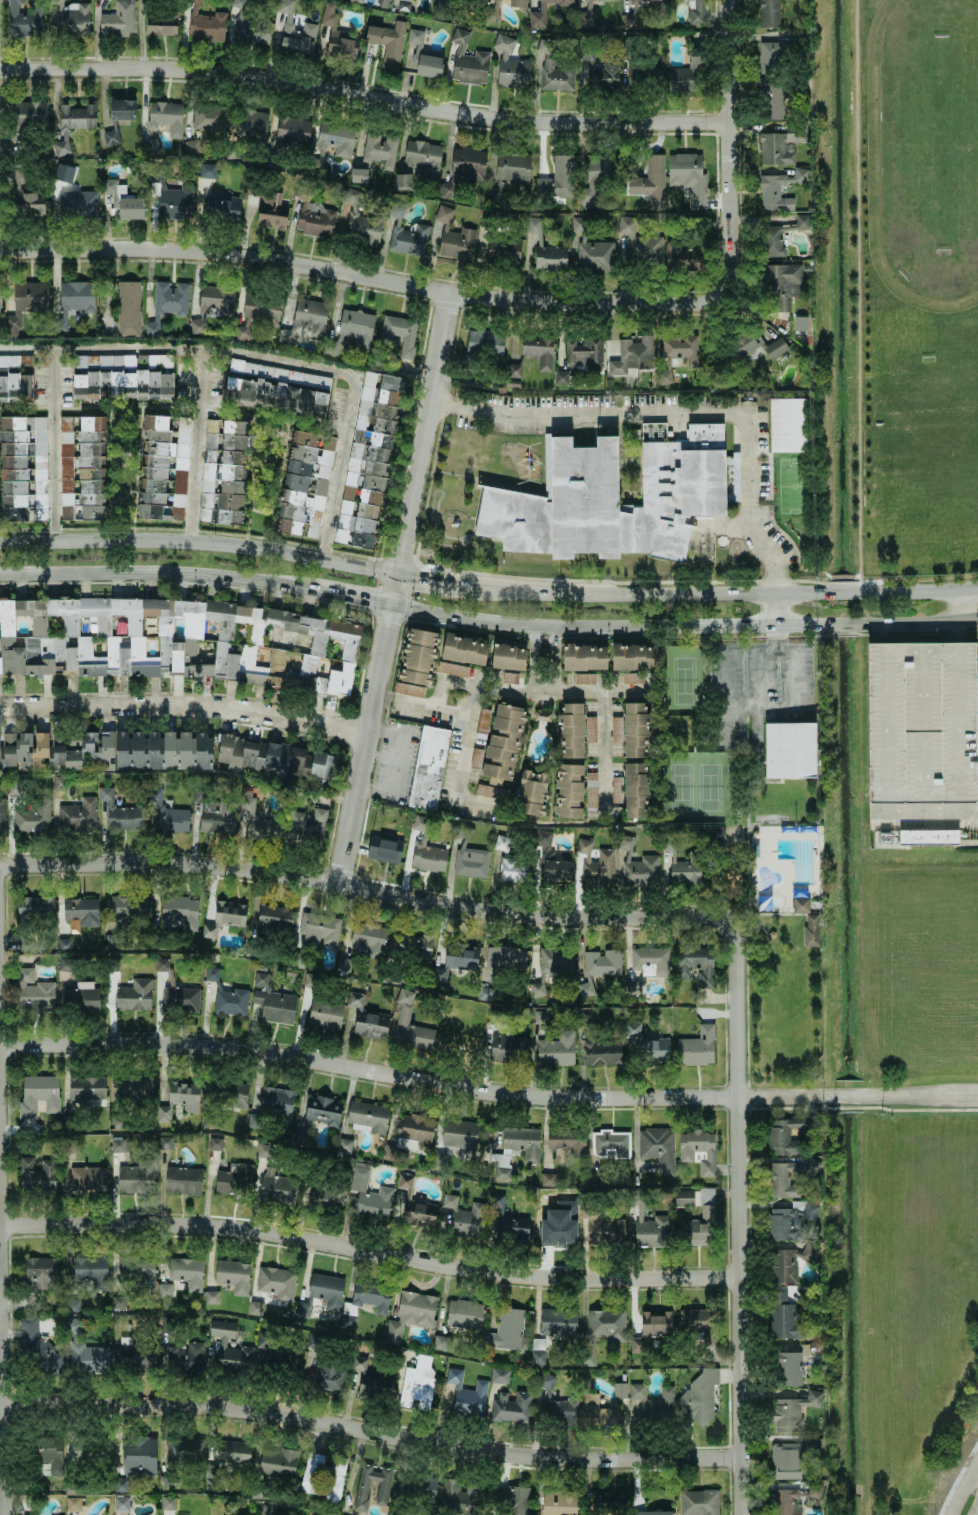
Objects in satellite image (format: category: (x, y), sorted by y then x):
building: (355, 0)
building: (643, 0)
building: (379, 2)
building: (517, 3)
building: (404, 5)
building: (586, 9)
building: (493, 10)
building: (694, 11)
building: (542, 12)
building: (768, 13)
building: (24, 19)
building: (71, 19)
building: (118, 19)
building: (160, 24)
building: (206, 26)
building: (250, 30)
building: (294, 31)
building: (337, 35)
building: (414, 37)
building: (387, 41)
building: (771, 56)
building: (467, 61)
building: (510, 64)
building: (428, 65)
building: (553, 68)
building: (596, 70)
building: (644, 73)
road: (363, 98)
building: (773, 102)
building: (121, 109)
building: (28, 113)
building: (165, 116)
building: (208, 118)
building: (251, 123)
building: (72, 124)
building: (292, 129)
building: (110, 137)
building: (331, 141)
building: (780, 145)
building: (150, 146)
building: (191, 146)
building: (379, 149)
building: (419, 161)
building: (463, 168)
building: (207, 171)
building: (68, 174)
building: (595, 174)
building: (358, 175)
building: (687, 175)
road: (728, 175)
building: (556, 179)
building: (649, 181)
building: (778, 190)
building: (25, 198)
building: (124, 200)
building: (174, 201)
building: (77, 204)
building: (110, 204)
building: (222, 207)
building: (271, 210)
building: (443, 214)
building: (315, 219)
building: (801, 222)
building: (363, 228)
building: (409, 239)
building: (774, 241)
building: (457, 244)
building: (639, 244)
building: (588, 249)
building: (503, 251)
building: (682, 256)
building: (550, 258)
road: (336, 273)
building: (782, 282)
road: (853, 290)
building: (0, 297)
building: (170, 298)
building: (74, 301)
building: (25, 304)
building: (212, 305)
building: (128, 308)
building: (257, 313)
building: (306, 320)
building: (356, 326)
building: (152, 328)
building: (400, 333)
building: (484, 343)
building: (774, 348)
road: (206, 349)
building: (538, 350)
building: (747, 351)
building: (676, 353)
building: (631, 355)
building: (580, 358)
building: (25, 363)
building: (513, 369)
road: (46, 377)
building: (117, 379)
building: (13, 381)
building: (276, 387)
road: (173, 406)
road: (649, 411)
building: (786, 425)
road: (197, 445)
building: (367, 459)
building: (179, 463)
building: (25, 465)
building: (155, 465)
building: (81, 468)
building: (223, 471)
road: (53, 473)
building: (307, 484)
road: (333, 494)
building: (614, 500)
road: (199, 542)
traffic signals: (400, 555)
road: (775, 563)
road: (158, 573)
traffic signals: (417, 575)
road: (423, 575)
road: (839, 578)
road: (968, 586)
road: (393, 588)
road: (924, 589)
road: (669, 593)
road: (352, 597)
traffic signals: (368, 601)
road: (959, 604)
road: (772, 607)
road: (969, 618)
road: (925, 620)
traffic signals: (388, 623)
road: (640, 624)
road: (775, 633)
building: (179, 642)
road: (771, 650)
road: (537, 653)
road: (557, 654)
building: (438, 655)
building: (633, 656)
building: (508, 657)
building: (584, 657)
road: (795, 667)
building: (632, 676)
road: (511, 678)
building: (584, 678)
building: (408, 689)
road: (766, 696)
road: (185, 706)
building: (542, 715)
building: (921, 723)
parking garage: (921, 723)
road: (478, 727)
building: (570, 730)
building: (636, 730)
road: (611, 742)
building: (162, 750)
building: (789, 750)
building: (56, 751)
building: (501, 751)
building: (238, 757)
road: (431, 766)
building: (428, 767)
building: (324, 769)
building: (59, 783)
road: (467, 783)
building: (636, 790)
building: (568, 791)
building: (532, 793)
road: (930, 811)
building: (119, 812)
building: (1, 814)
building: (167, 814)
building: (78, 815)
building: (32, 817)
building: (217, 817)
building: (258, 821)
building: (418, 823)
building: (307, 826)
building: (928, 837)
building: (384, 849)
building: (426, 854)
building: (470, 862)
building: (595, 863)
building: (637, 867)
building: (514, 870)
building: (685, 871)
building: (555, 872)
road: (331, 883)
building: (800, 905)
building: (35, 907)
building: (128, 907)
building: (80, 913)
building: (179, 913)
building: (224, 917)
building: (274, 918)
building: (317, 929)
building: (811, 930)
building: (369, 938)
building: (411, 942)
building: (26, 943)
building: (505, 959)
building: (650, 960)
building: (455, 961)
building: (601, 962)
building: (161, 964)
building: (343, 964)
building: (552, 966)
building: (694, 966)
park: (776, 975)
building: (585, 989)
building: (34, 992)
building: (75, 993)
building: (134, 995)
building: (180, 999)
building: (272, 1001)
building: (354, 1001)
building: (230, 1002)
building: (325, 1012)
building: (497, 1016)
building: (403, 1017)
building: (540, 1017)
building: (584, 1019)
building: (370, 1025)
building: (647, 1043)
building: (696, 1047)
building: (508, 1048)
building: (556, 1049)
building: (602, 1053)
building: (133, 1088)
building: (85, 1089)
road: (487, 1092)
building: (233, 1094)
building: (38, 1095)
building: (184, 1095)
building: (277, 1103)
building: (323, 1110)
building: (163, 1113)
building: (367, 1117)
building: (253, 1121)
building: (414, 1132)
building: (788, 1134)
building: (298, 1136)
building: (461, 1136)
building: (567, 1141)
building: (164, 1142)
building: (522, 1142)
building: (215, 1143)
building: (611, 1143)
building: (344, 1145)
building: (657, 1148)
building: (262, 1150)
building: (697, 1150)
building: (438, 1162)
building: (502, 1173)
building: (36, 1175)
building: (136, 1177)
building: (234, 1178)
building: (87, 1179)
building: (547, 1179)
building: (182, 1180)
building: (404, 1181)
building: (779, 1181)
road: (738, 1184)
building: (277, 1186)
building: (369, 1194)
building: (326, 1196)
building: (683, 1198)
building: (706, 1204)
building: (419, 1213)
building: (463, 1216)
building: (790, 1220)
building: (503, 1224)
building: (603, 1228)
building: (650, 1229)
building: (696, 1234)
road: (369, 1252)
building: (792, 1262)
building: (92, 1271)
building: (186, 1272)
building: (40, 1274)
building: (233, 1276)
building: (276, 1282)
building: (164, 1290)
building: (326, 1290)
building: (211, 1297)
building: (364, 1302)
building: (71, 1304)
building: (254, 1307)
building: (302, 1308)
building: (464, 1314)
building: (409, 1315)
building: (786, 1318)
building: (558, 1321)
building: (694, 1322)
building: (651, 1329)
building: (505, 1330)
building: (438, 1342)
building: (35, 1346)
building: (229, 1346)
building: (537, 1353)
building: (86, 1354)
building: (134, 1354)
building: (185, 1355)
building: (277, 1357)
building: (787, 1368)
building: (499, 1375)
building: (454, 1376)
building: (351, 1379)
building: (417, 1382)
road: (1, 1388)
building: (446, 1397)
building: (700, 1397)
building: (470, 1400)
building: (629, 1404)
building: (511, 1407)
building: (557, 1411)
building: (793, 1411)
road: (371, 1432)
building: (184, 1450)
building: (90, 1452)
building: (231, 1452)
building: (51, 1455)
building: (139, 1456)
building: (786, 1461)
building: (277, 1462)
building: (323, 1476)
building: (215, 1481)
building: (121, 1484)
building: (418, 1485)
building: (370, 1486)
road: (964, 1490)
building: (458, 1496)
building: (512, 1499)
building: (794, 1499)
building: (605, 1501)
building: (558, 1502)
building: (698, 1502)
building: (120, 1503)
building: (168, 1503)
building: (72, 1504)
building: (652, 1512)
road: (976, 1512)

